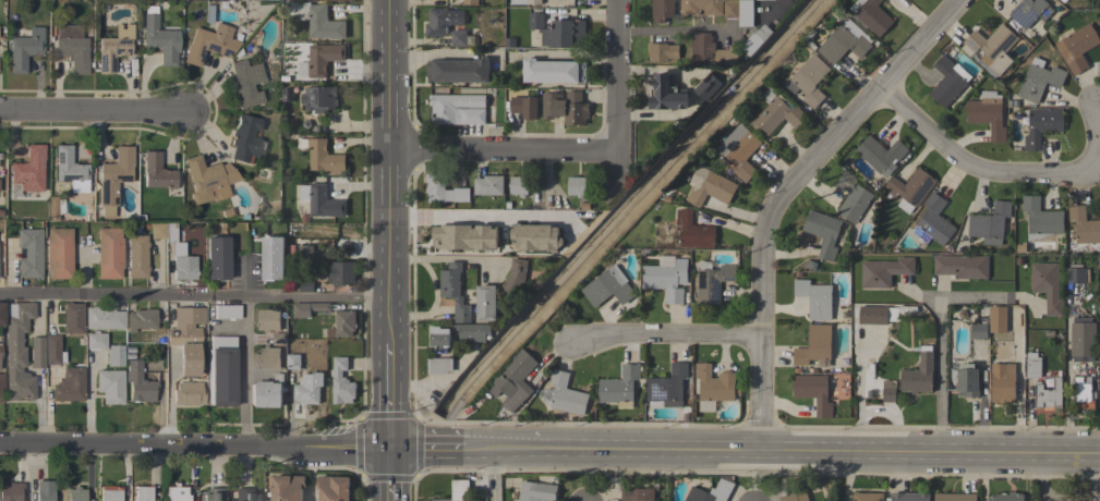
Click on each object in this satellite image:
building: (334, 0)
building: (1063, 1)
building: (470, 2)
building: (533, 2)
building: (701, 7)
building: (730, 9)
building: (663, 10)
building: (1030, 12)
building: (745, 13)
building: (871, 15)
building: (317, 20)
building: (443, 21)
road: (675, 30)
building: (558, 32)
building: (159, 37)
building: (458, 38)
building: (756, 39)
building: (508, 42)
building: (845, 42)
building: (209, 44)
building: (71, 47)
building: (992, 47)
building: (1077, 47)
building: (24, 49)
building: (712, 51)
building: (111, 52)
building: (662, 52)
building: (321, 59)
building: (458, 71)
building: (553, 71)
road: (617, 76)
building: (283, 78)
building: (809, 80)
building: (948, 81)
building: (1039, 81)
building: (245, 83)
building: (706, 86)
building: (667, 93)
building: (286, 96)
building: (318, 98)
building: (524, 107)
building: (565, 107)
building: (455, 110)
building: (776, 112)
building: (987, 113)
road: (93, 114)
building: (1040, 125)
building: (245, 138)
building: (739, 150)
road: (501, 152)
building: (881, 155)
building: (322, 156)
building: (70, 170)
building: (27, 171)
building: (157, 171)
road: (386, 171)
road: (998, 171)
building: (113, 178)
building: (208, 179)
building: (488, 185)
building: (518, 185)
building: (576, 185)
building: (711, 187)
building: (910, 188)
building: (443, 190)
road: (769, 191)
building: (851, 197)
building: (321, 200)
building: (507, 206)
building: (584, 206)
building: (55, 208)
road: (473, 212)
building: (1041, 218)
building: (933, 222)
building: (989, 222)
building: (585, 224)
building: (1084, 225)
building: (157, 230)
building: (450, 231)
building: (503, 232)
building: (693, 232)
building: (823, 232)
building: (489, 234)
building: (534, 237)
building: (1020, 248)
building: (300, 250)
building: (29, 253)
building: (109, 253)
building: (58, 254)
building: (179, 255)
building: (136, 256)
building: (217, 257)
building: (273, 257)
road: (439, 257)
building: (1099, 260)
building: (1018, 261)
building: (809, 266)
building: (962, 266)
building: (884, 271)
building: (337, 272)
road: (82, 273)
building: (1076, 276)
road: (245, 277)
building: (666, 278)
building: (513, 279)
building: (712, 280)
building: (305, 285)
building: (1047, 285)
building: (607, 286)
building: (454, 291)
road: (193, 298)
building: (814, 298)
building: (486, 303)
building: (1099, 306)
building: (307, 308)
building: (227, 311)
building: (1, 314)
building: (871, 315)
building: (72, 317)
building: (104, 318)
building: (141, 319)
building: (268, 319)
building: (998, 319)
building: (344, 322)
building: (979, 329)
building: (472, 332)
building: (185, 338)
building: (278, 339)
building: (1083, 339)
building: (95, 341)
road: (663, 342)
road: (940, 342)
building: (814, 346)
building: (52, 350)
building: (129, 350)
building: (16, 351)
building: (439, 351)
building: (36, 352)
building: (114, 355)
building: (129, 356)
building: (268, 357)
building: (293, 362)
building: (1032, 365)
building: (1056, 366)
building: (222, 371)
road: (244, 374)
building: (919, 375)
building: (512, 380)
building: (967, 380)
building: (138, 382)
building: (341, 382)
building: (1003, 382)
building: (715, 383)
building: (69, 384)
building: (110, 386)
building: (619, 387)
building: (1, 388)
building: (667, 388)
building: (266, 392)
building: (813, 392)
building: (189, 393)
building: (306, 393)
building: (566, 394)
building: (869, 394)
building: (889, 394)
building: (1049, 394)
building: (1084, 395)
road: (386, 398)
road: (167, 399)
road: (89, 400)
building: (705, 405)
road: (192, 449)
traffic signals: (386, 451)
road: (426, 451)
road: (783, 451)
road: (386, 476)
road: (498, 476)
road: (587, 476)
road: (753, 476)
building: (287, 487)
building: (333, 488)
building: (44, 490)
building: (457, 490)
building: (11, 491)
building: (535, 491)
building: (143, 492)
building: (711, 492)
building: (89, 493)
building: (110, 493)
building: (176, 493)
building: (790, 493)
building: (75, 494)
building: (211, 494)
building: (244, 494)
building: (636, 494)
building: (868, 497)
building: (909, 497)
building: (955, 497)
building: (1006, 497)

